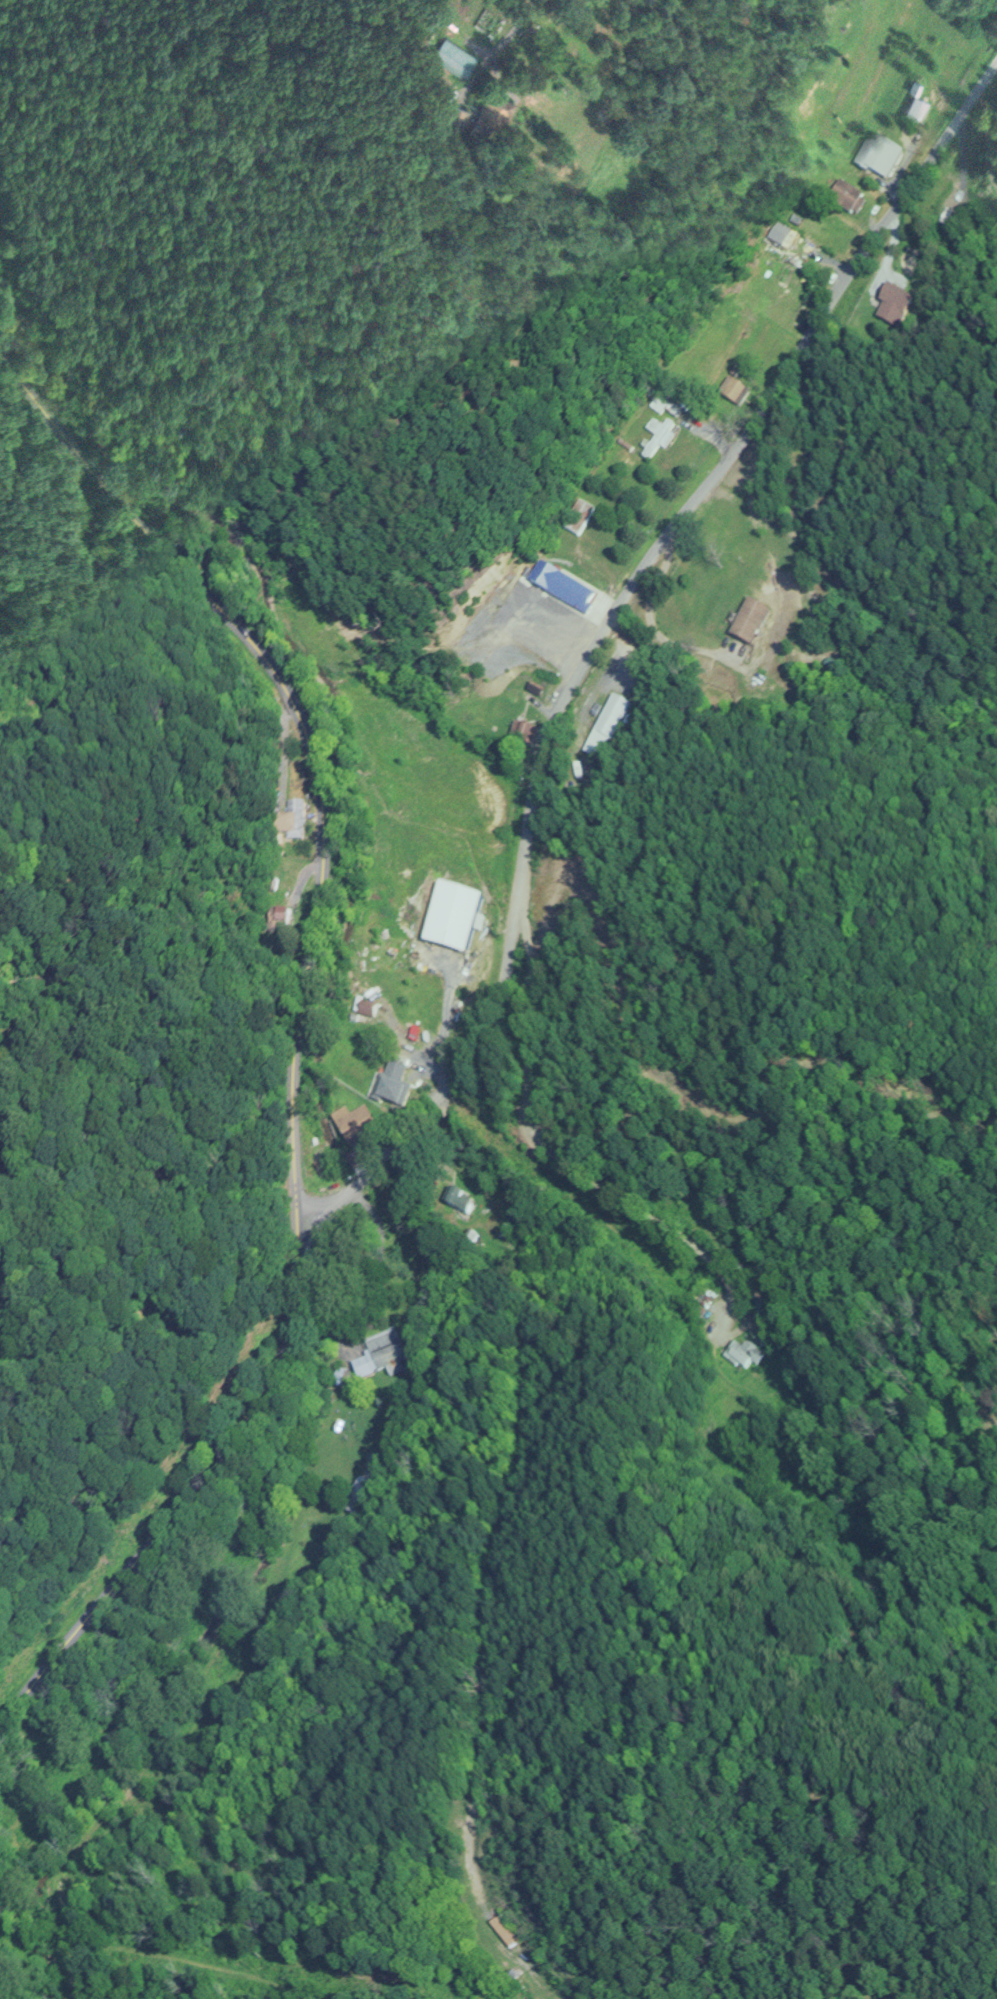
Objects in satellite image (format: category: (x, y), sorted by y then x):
road: (509, 34)
road: (650, 622)
road: (600, 632)
road: (296, 1036)
road: (557, 1157)
road: (317, 1234)
road: (505, 1530)

